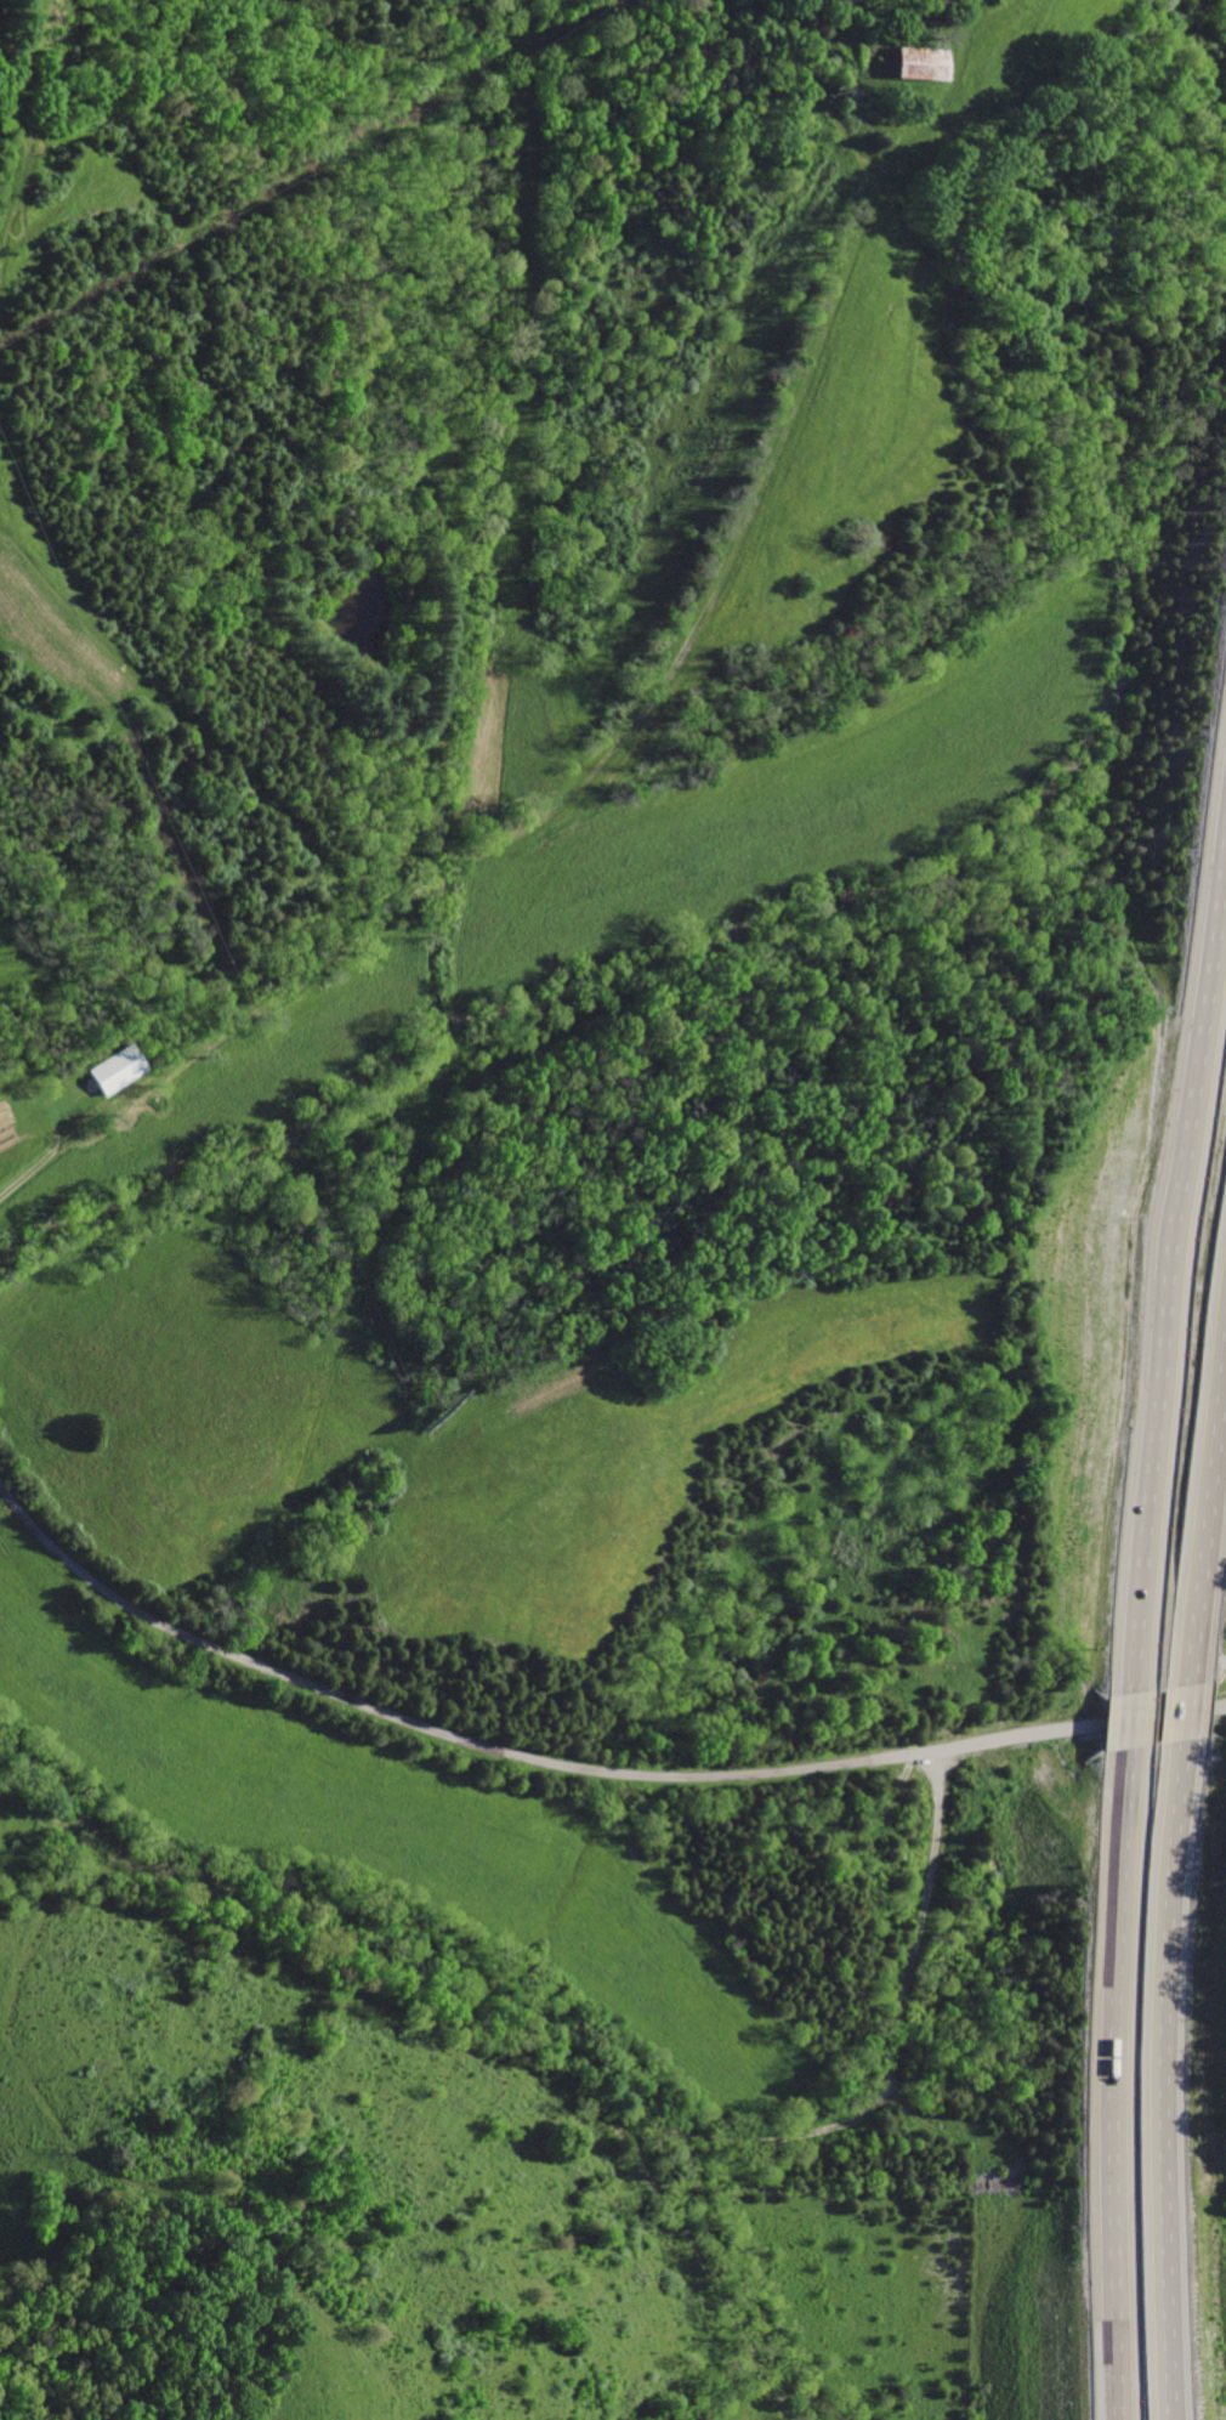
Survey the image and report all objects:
road: (517, 837)
road: (1173, 1249)
road: (1207, 1575)
road: (1186, 1711)
road: (1128, 1719)
road: (574, 1768)
road: (1165, 2079)
road: (1107, 2082)
road: (590, 2102)
road: (708, 2276)

